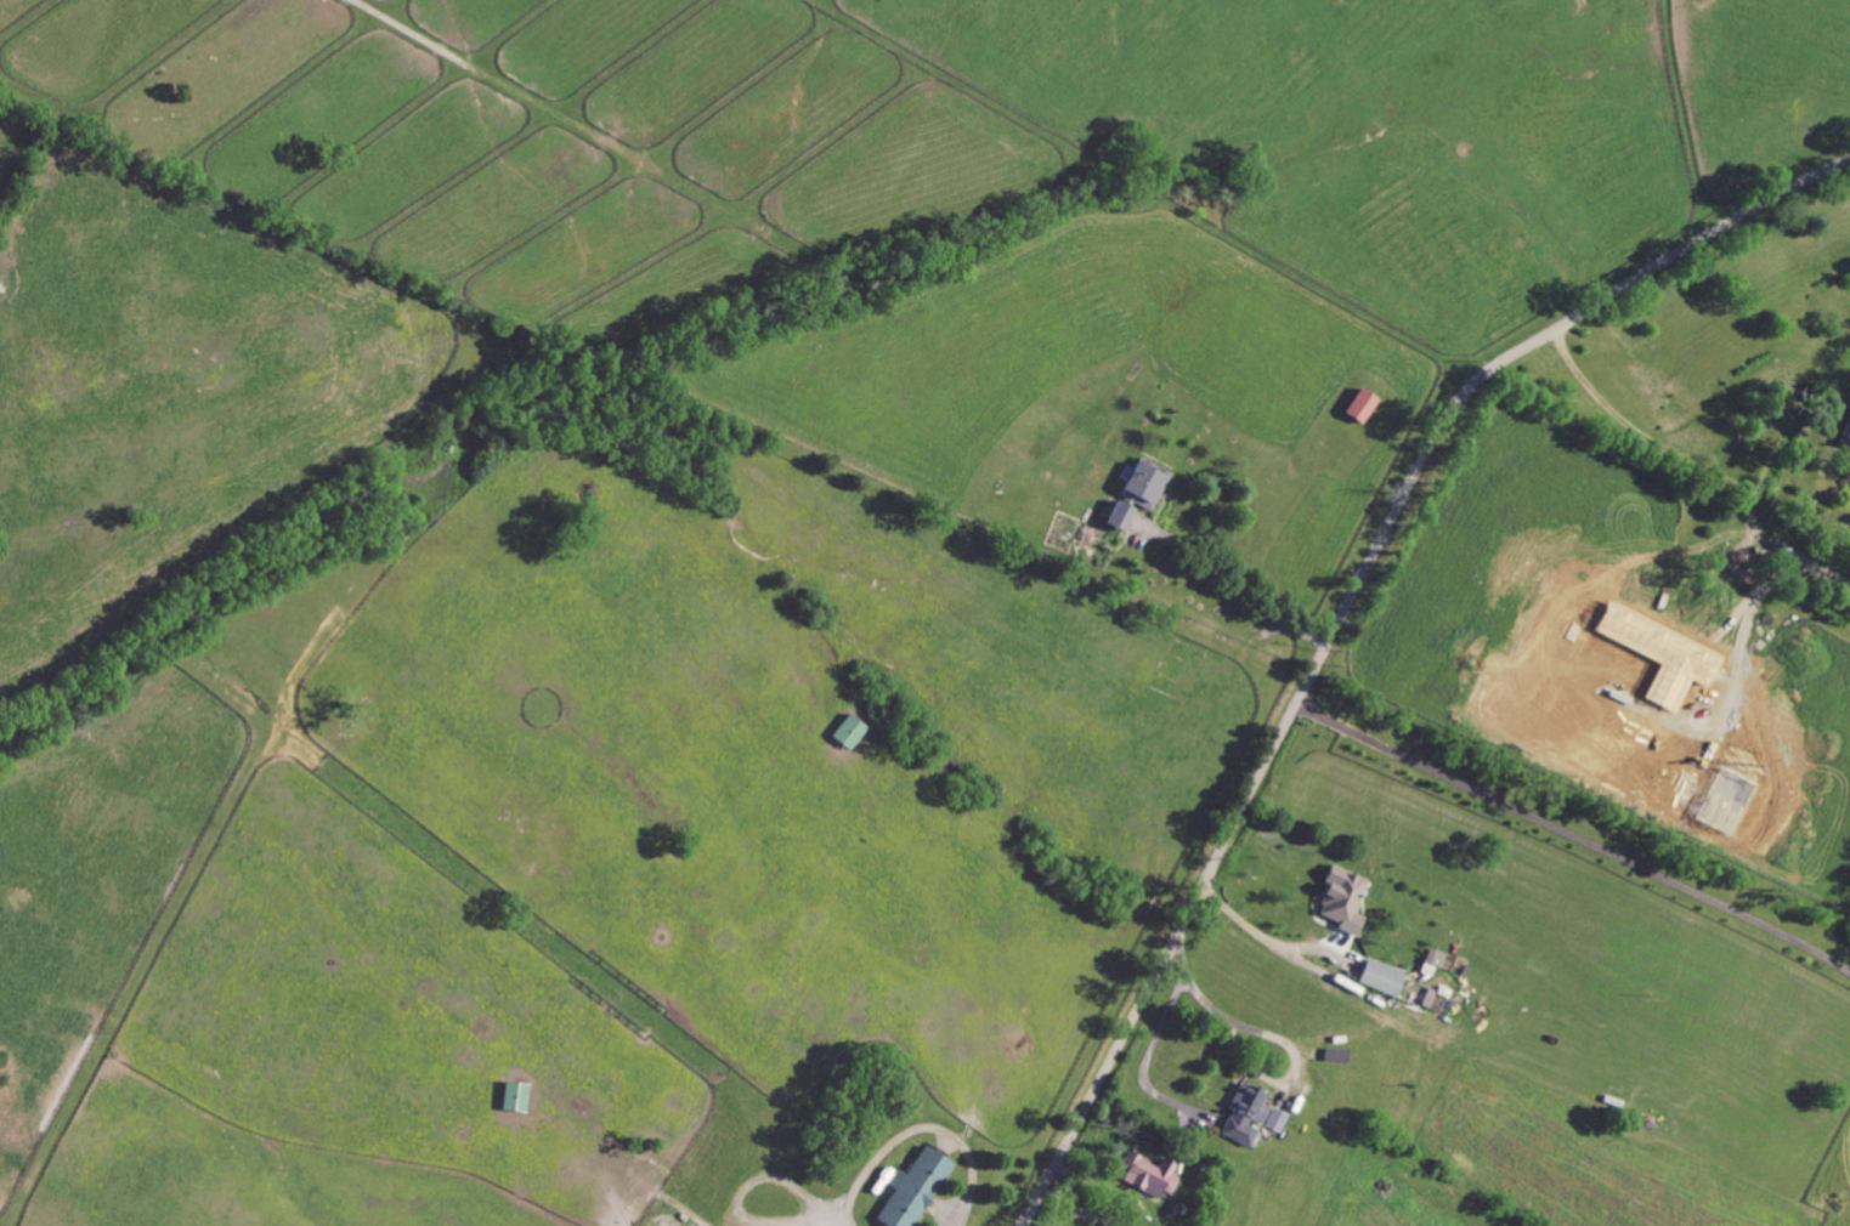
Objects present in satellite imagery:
building: (1363, 407)
building: (1846, 441)
road: (1697, 453)
building: (1147, 486)
building: (1121, 517)
road: (1240, 580)
building: (1719, 592)
road: (1347, 607)
building: (850, 733)
road: (1574, 836)
building: (1343, 901)
road: (1258, 933)
building: (1435, 964)
building: (1384, 980)
building: (1431, 999)
road: (1273, 1037)
road: (1154, 1052)
building: (516, 1097)
building: (1246, 1114)
building: (1279, 1120)
building: (1150, 1175)
road: (1096, 1181)
building: (916, 1188)
road: (1081, 1208)

